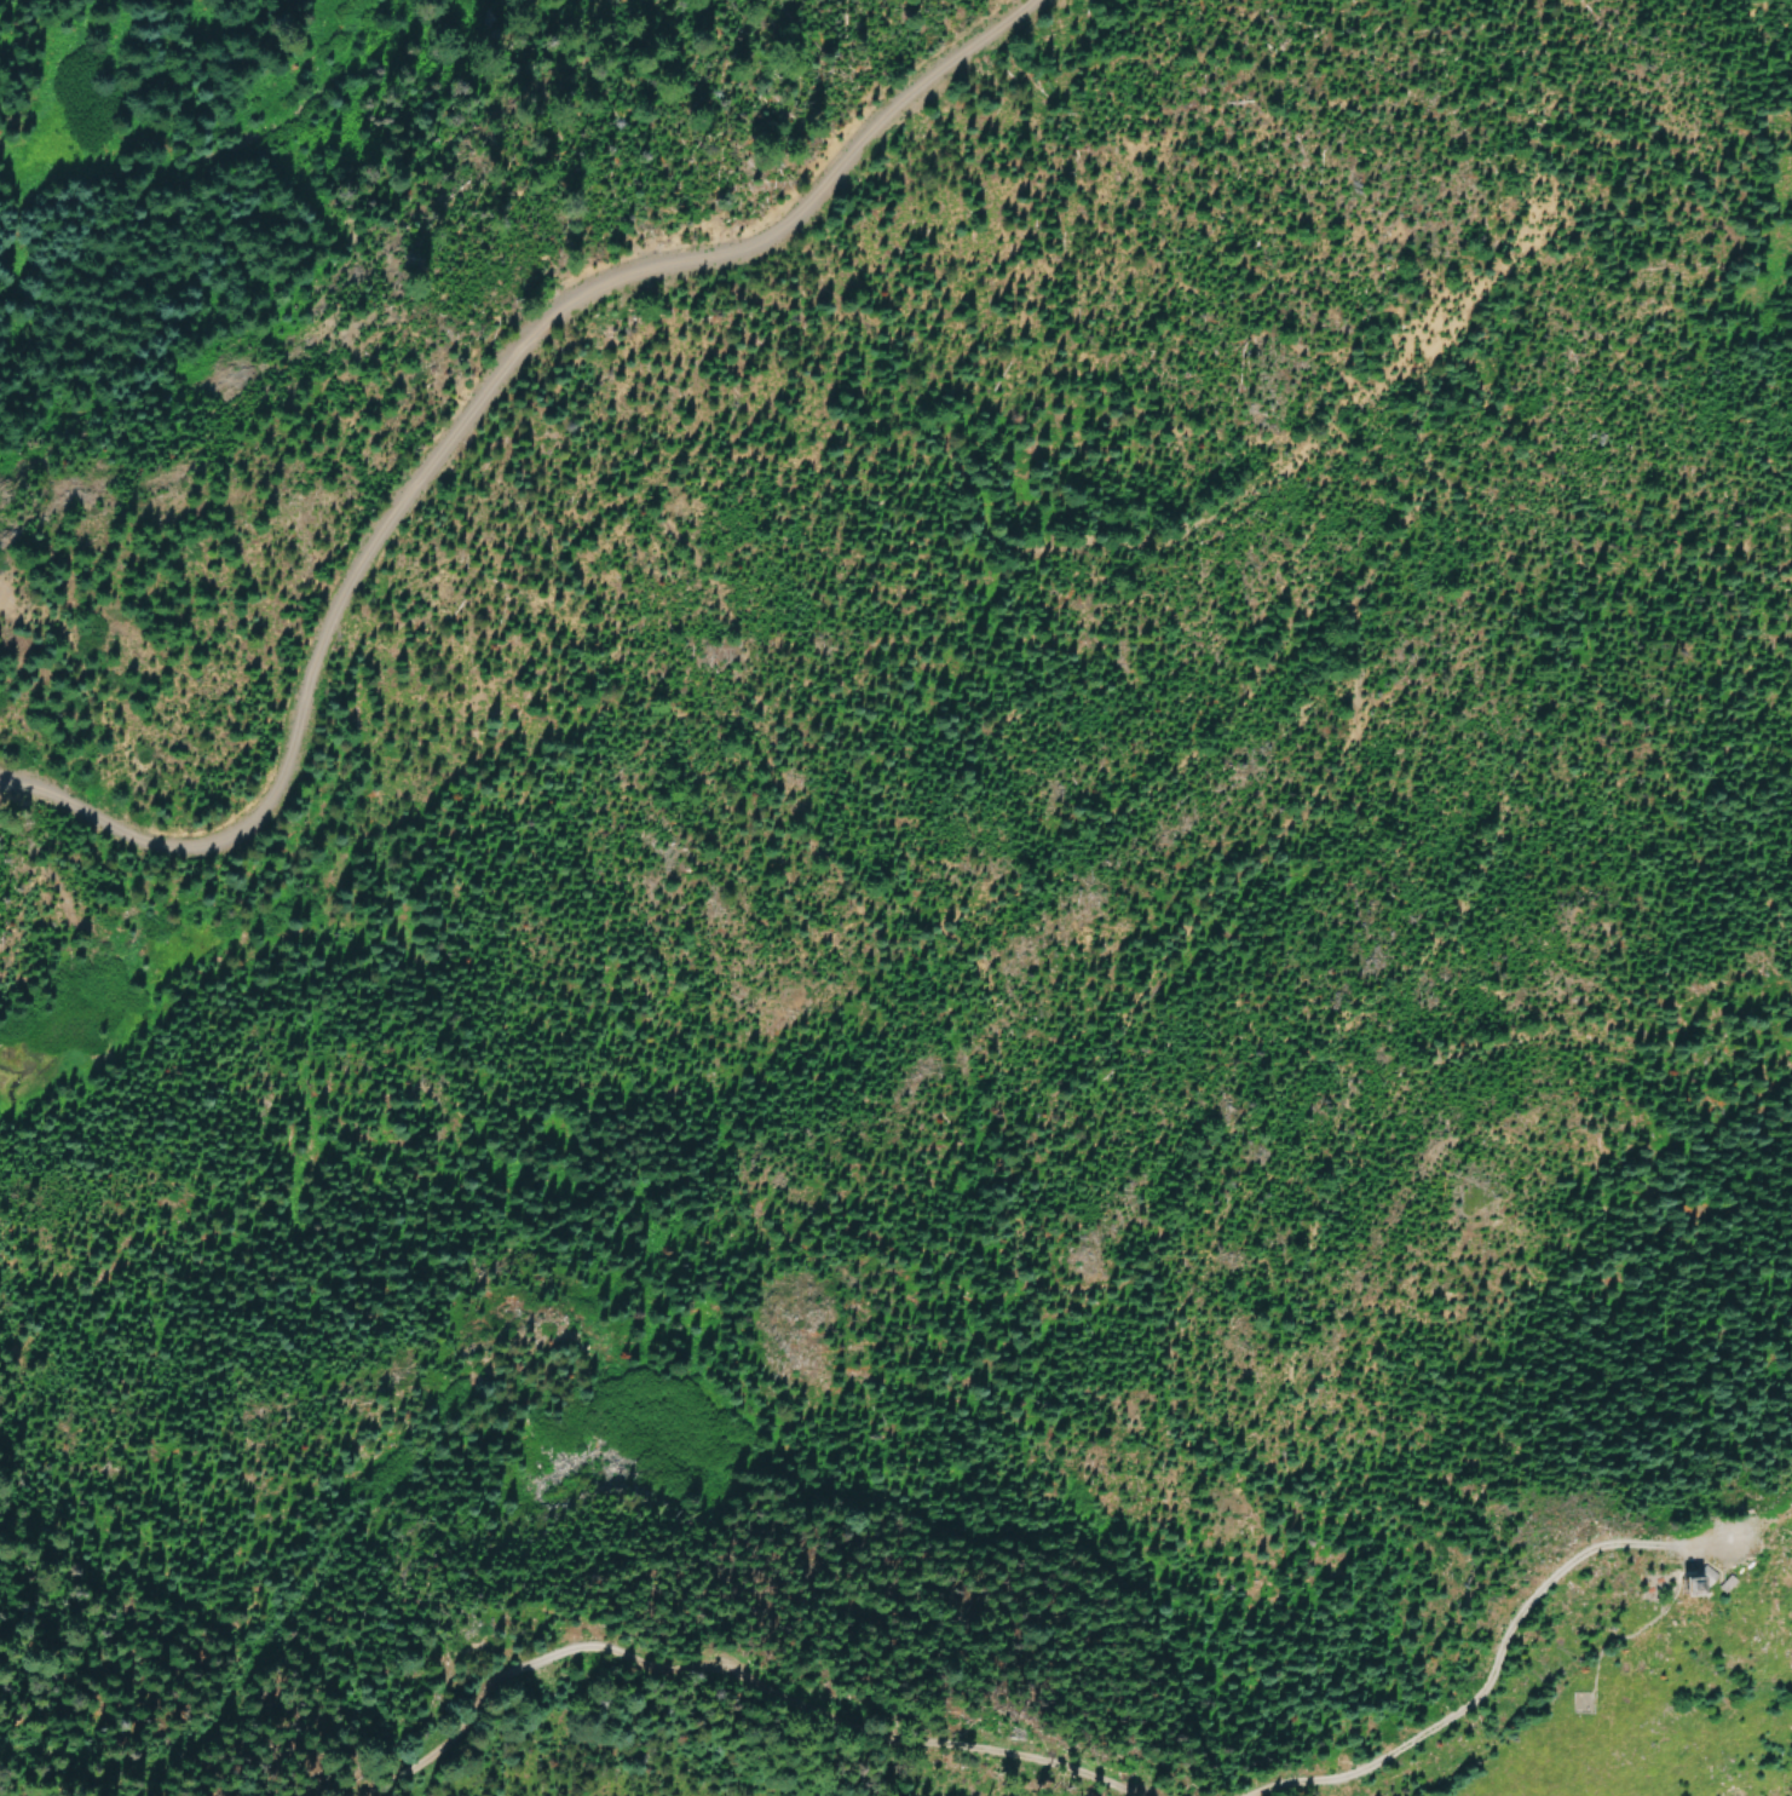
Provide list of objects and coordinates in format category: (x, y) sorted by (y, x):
road: (466, 424)
parking lot: (1716, 1541)
building: (1700, 1573)
building: (1725, 1583)
road: (1635, 1628)
road: (1498, 1637)
road: (736, 1683)

